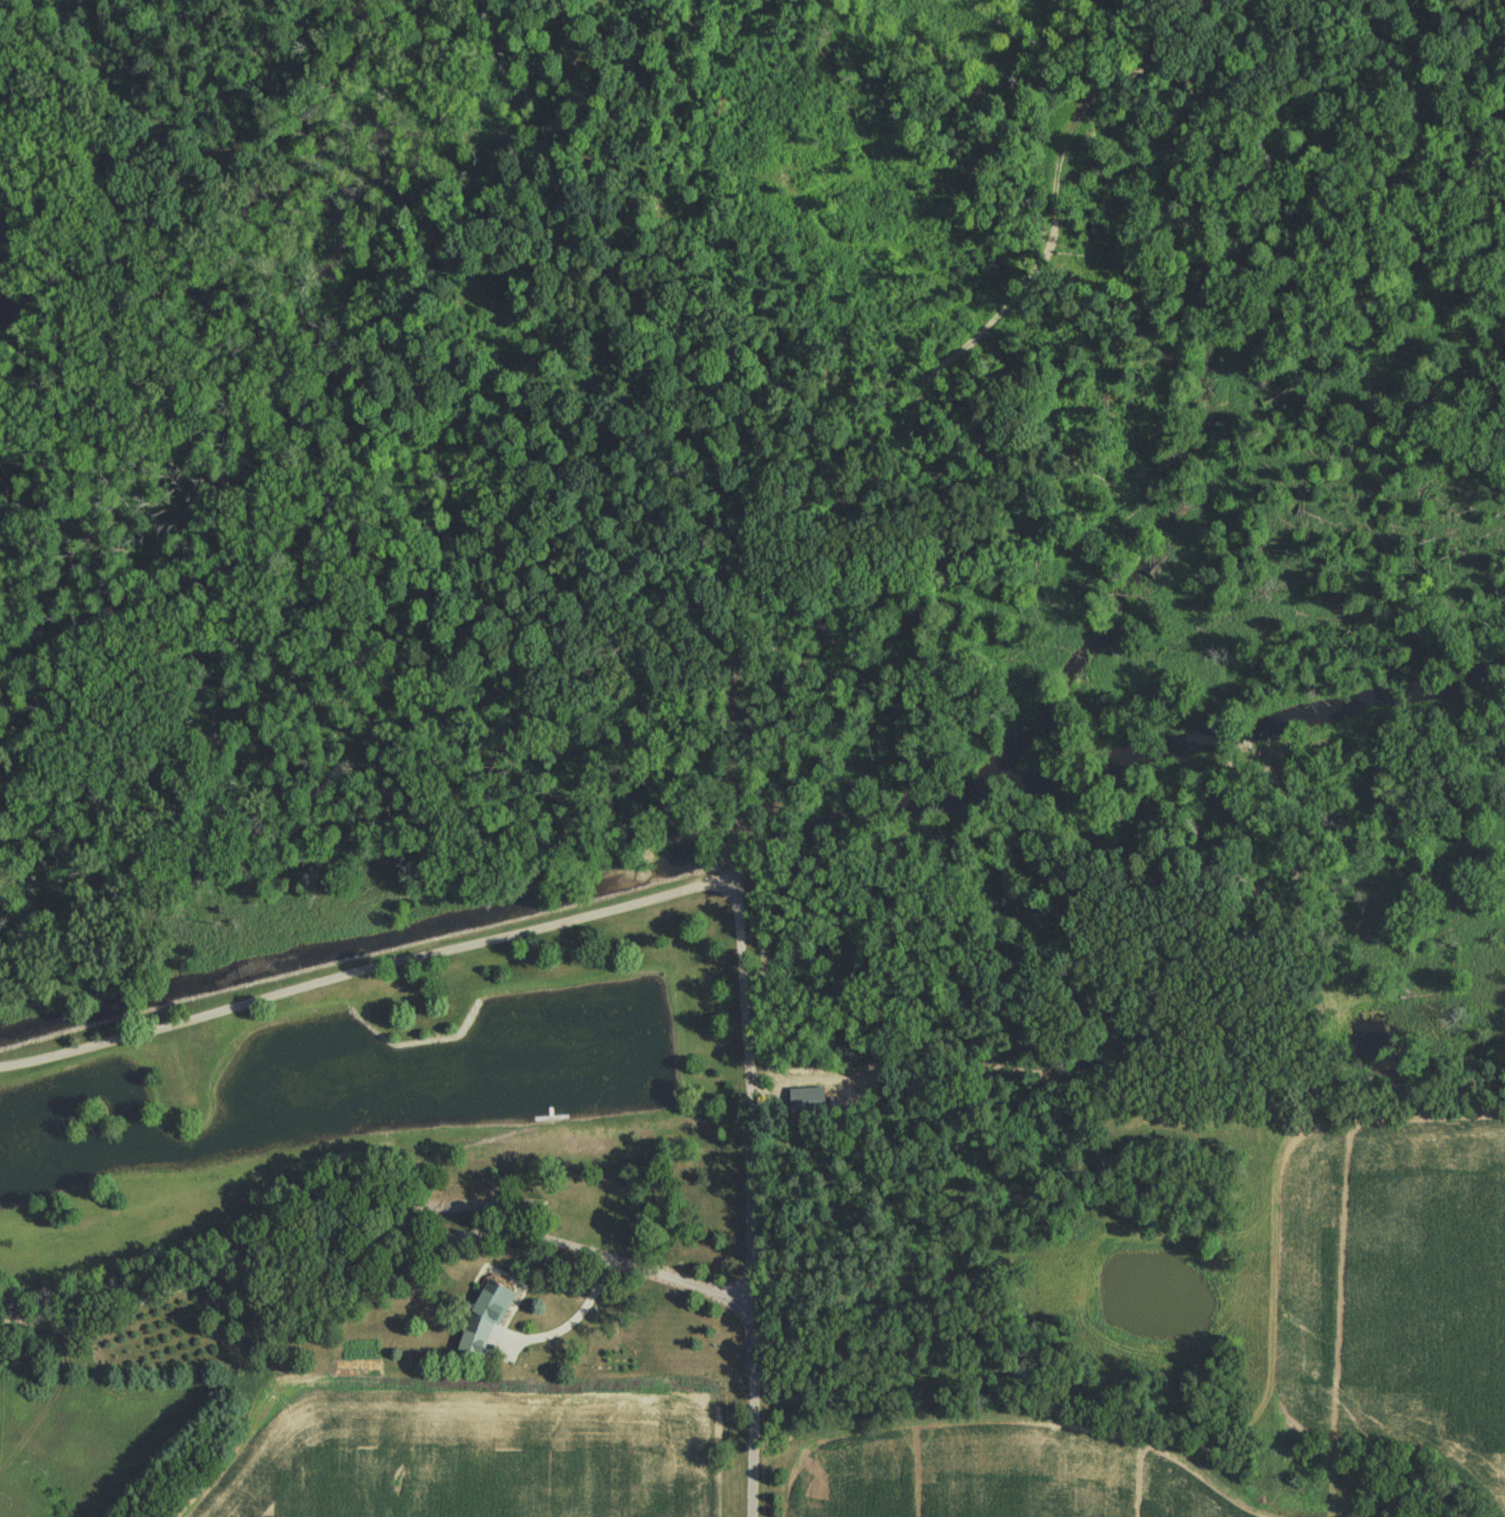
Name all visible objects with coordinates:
building: (486, 1318)

